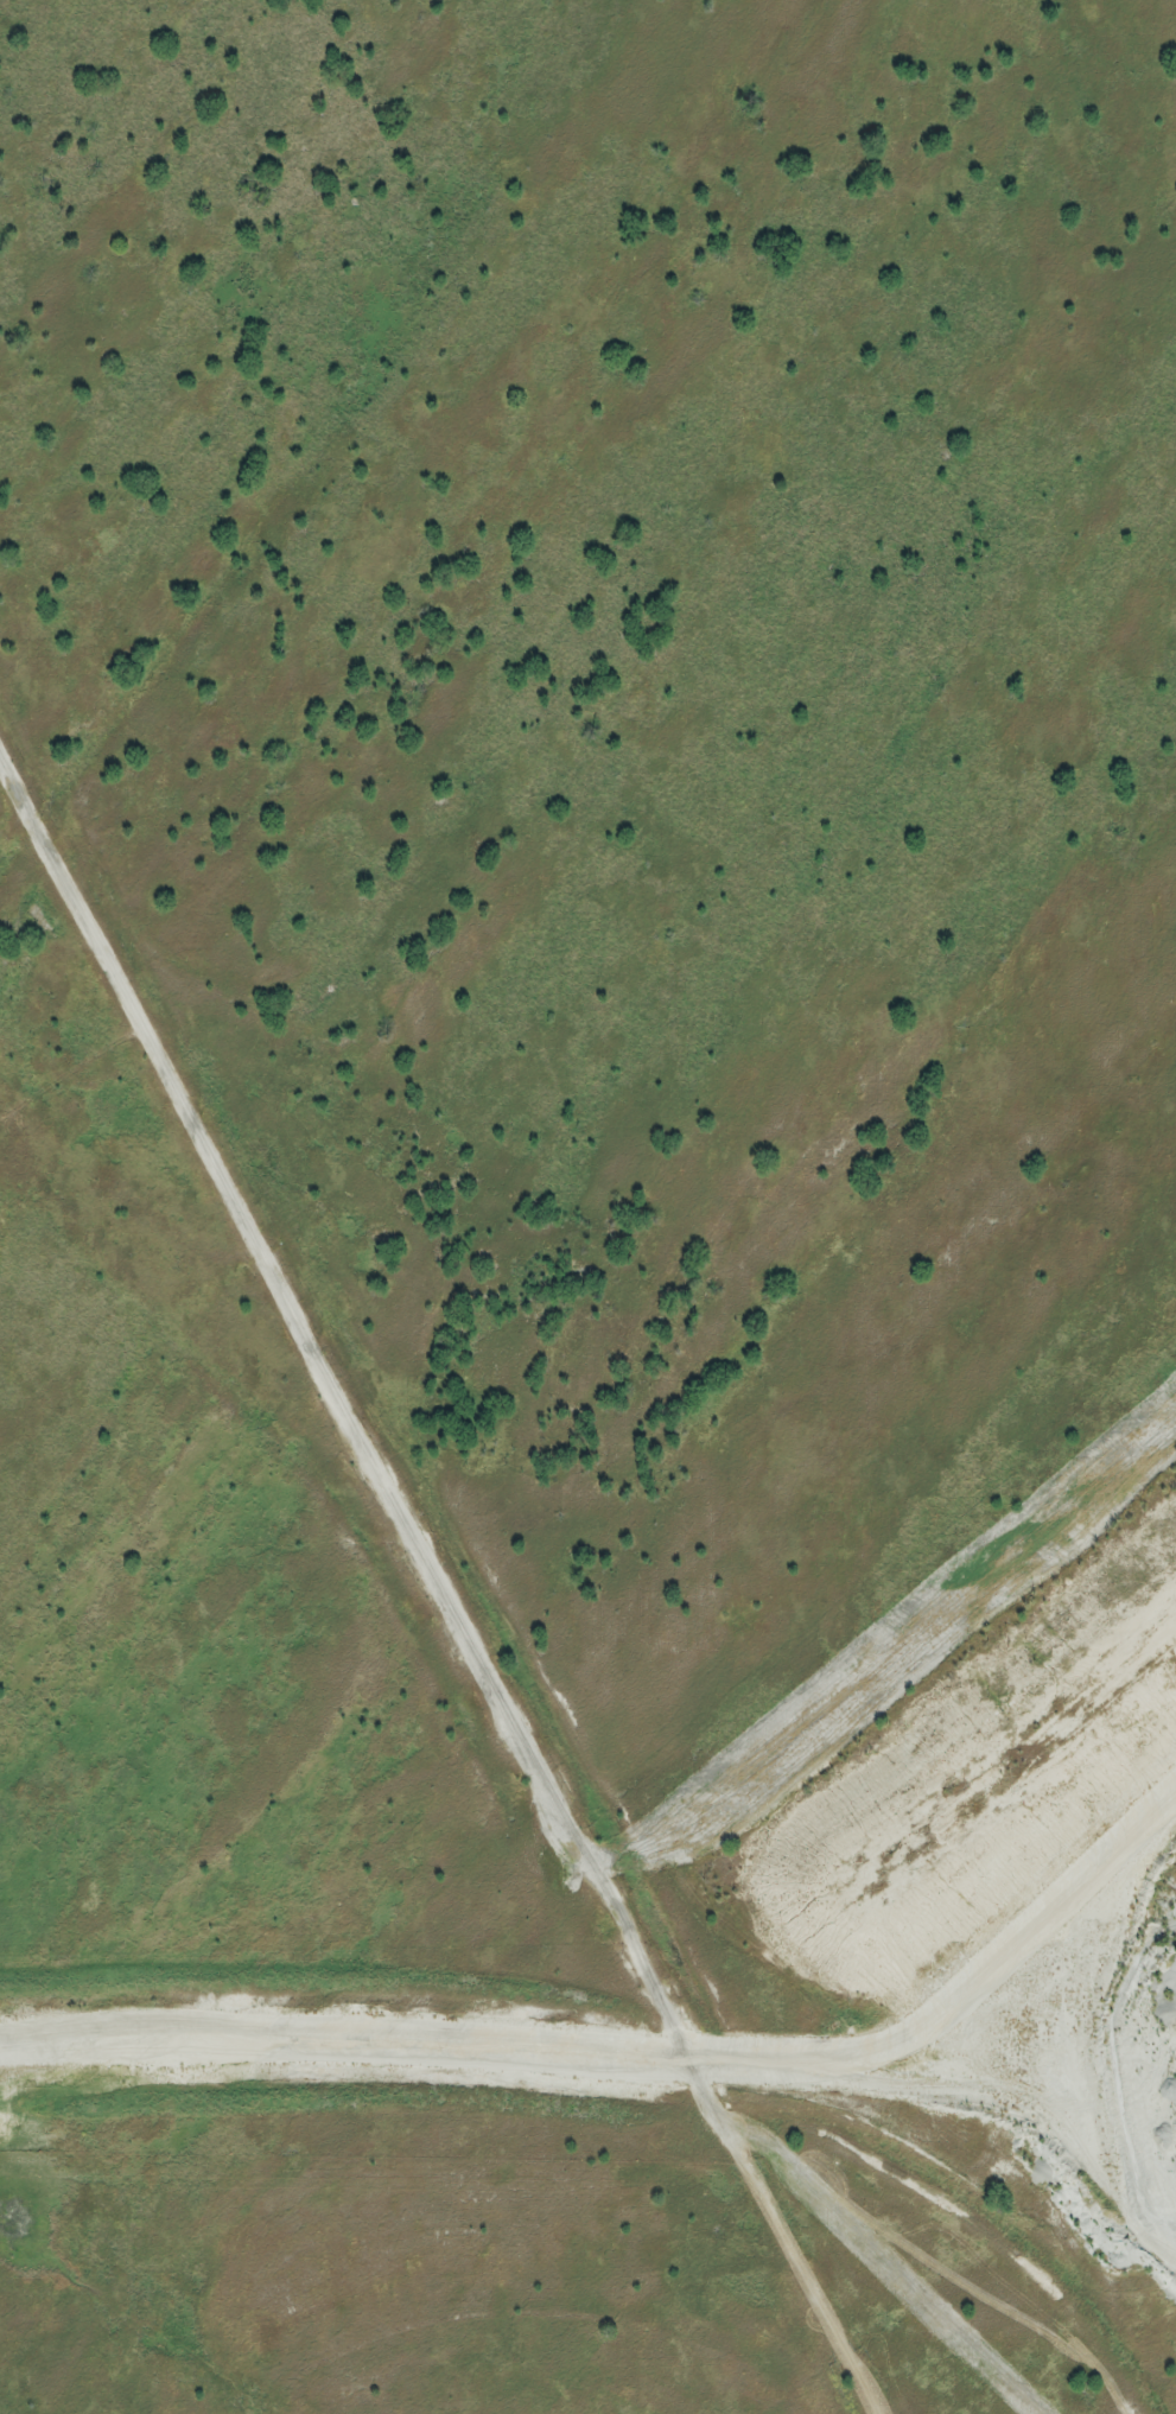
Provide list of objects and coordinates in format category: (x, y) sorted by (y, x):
quarry: (586, 1205)

